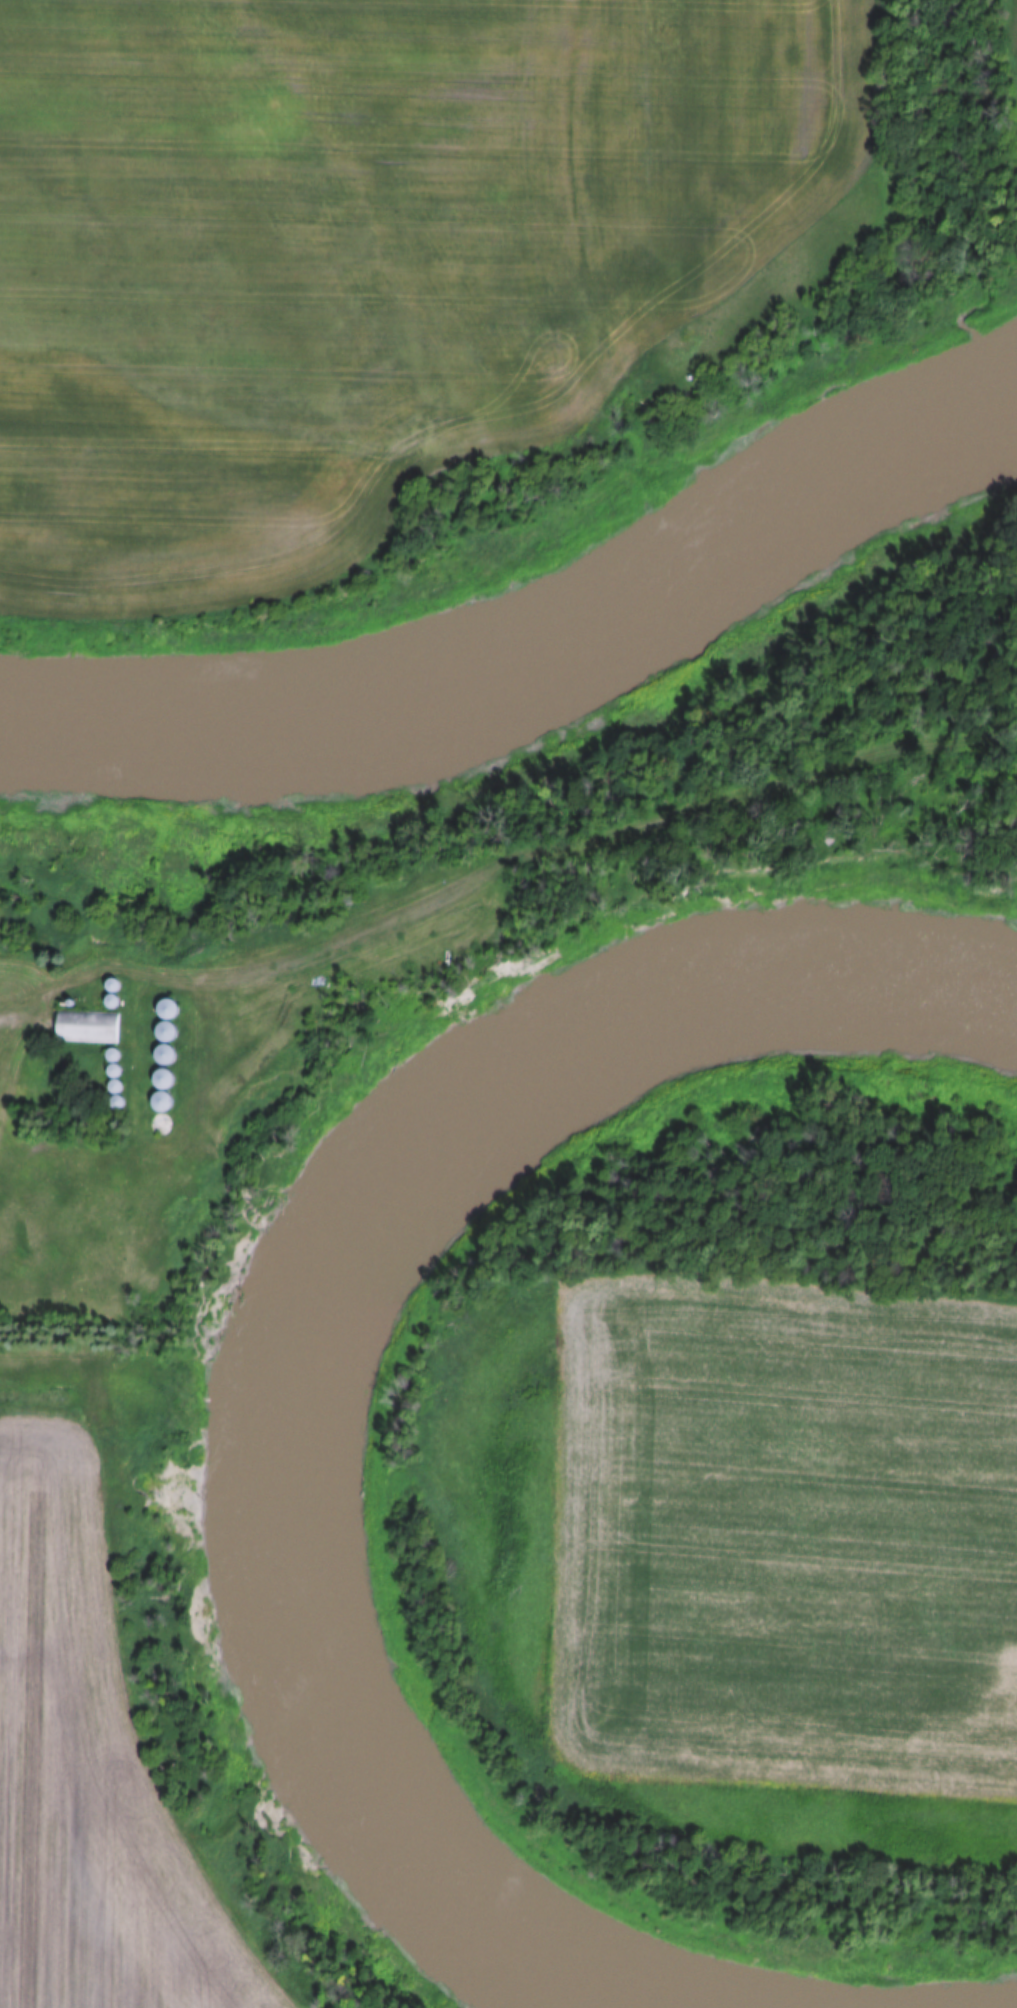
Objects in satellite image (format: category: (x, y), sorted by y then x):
river: (538, 660)
road: (11, 1024)
river: (381, 1317)

